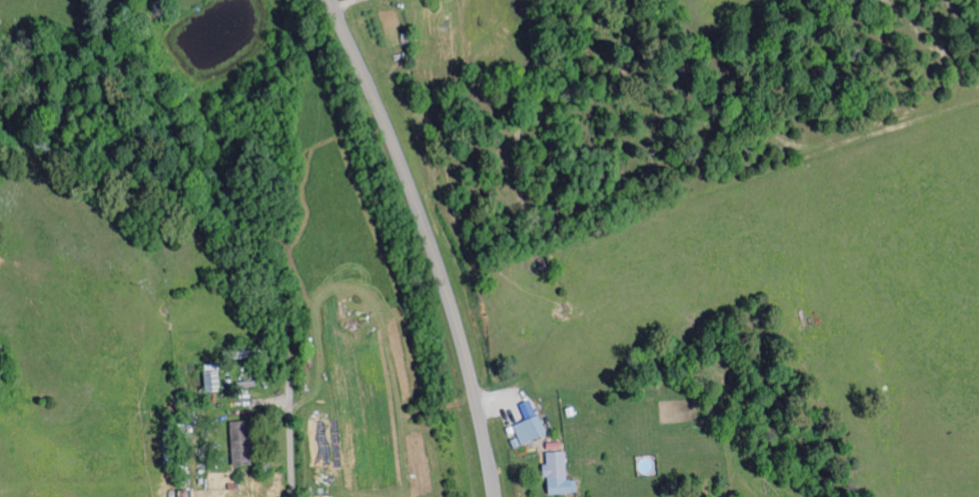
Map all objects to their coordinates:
road: (429, 242)
building: (215, 380)
building: (531, 424)
road: (289, 434)
building: (243, 443)
building: (560, 474)

